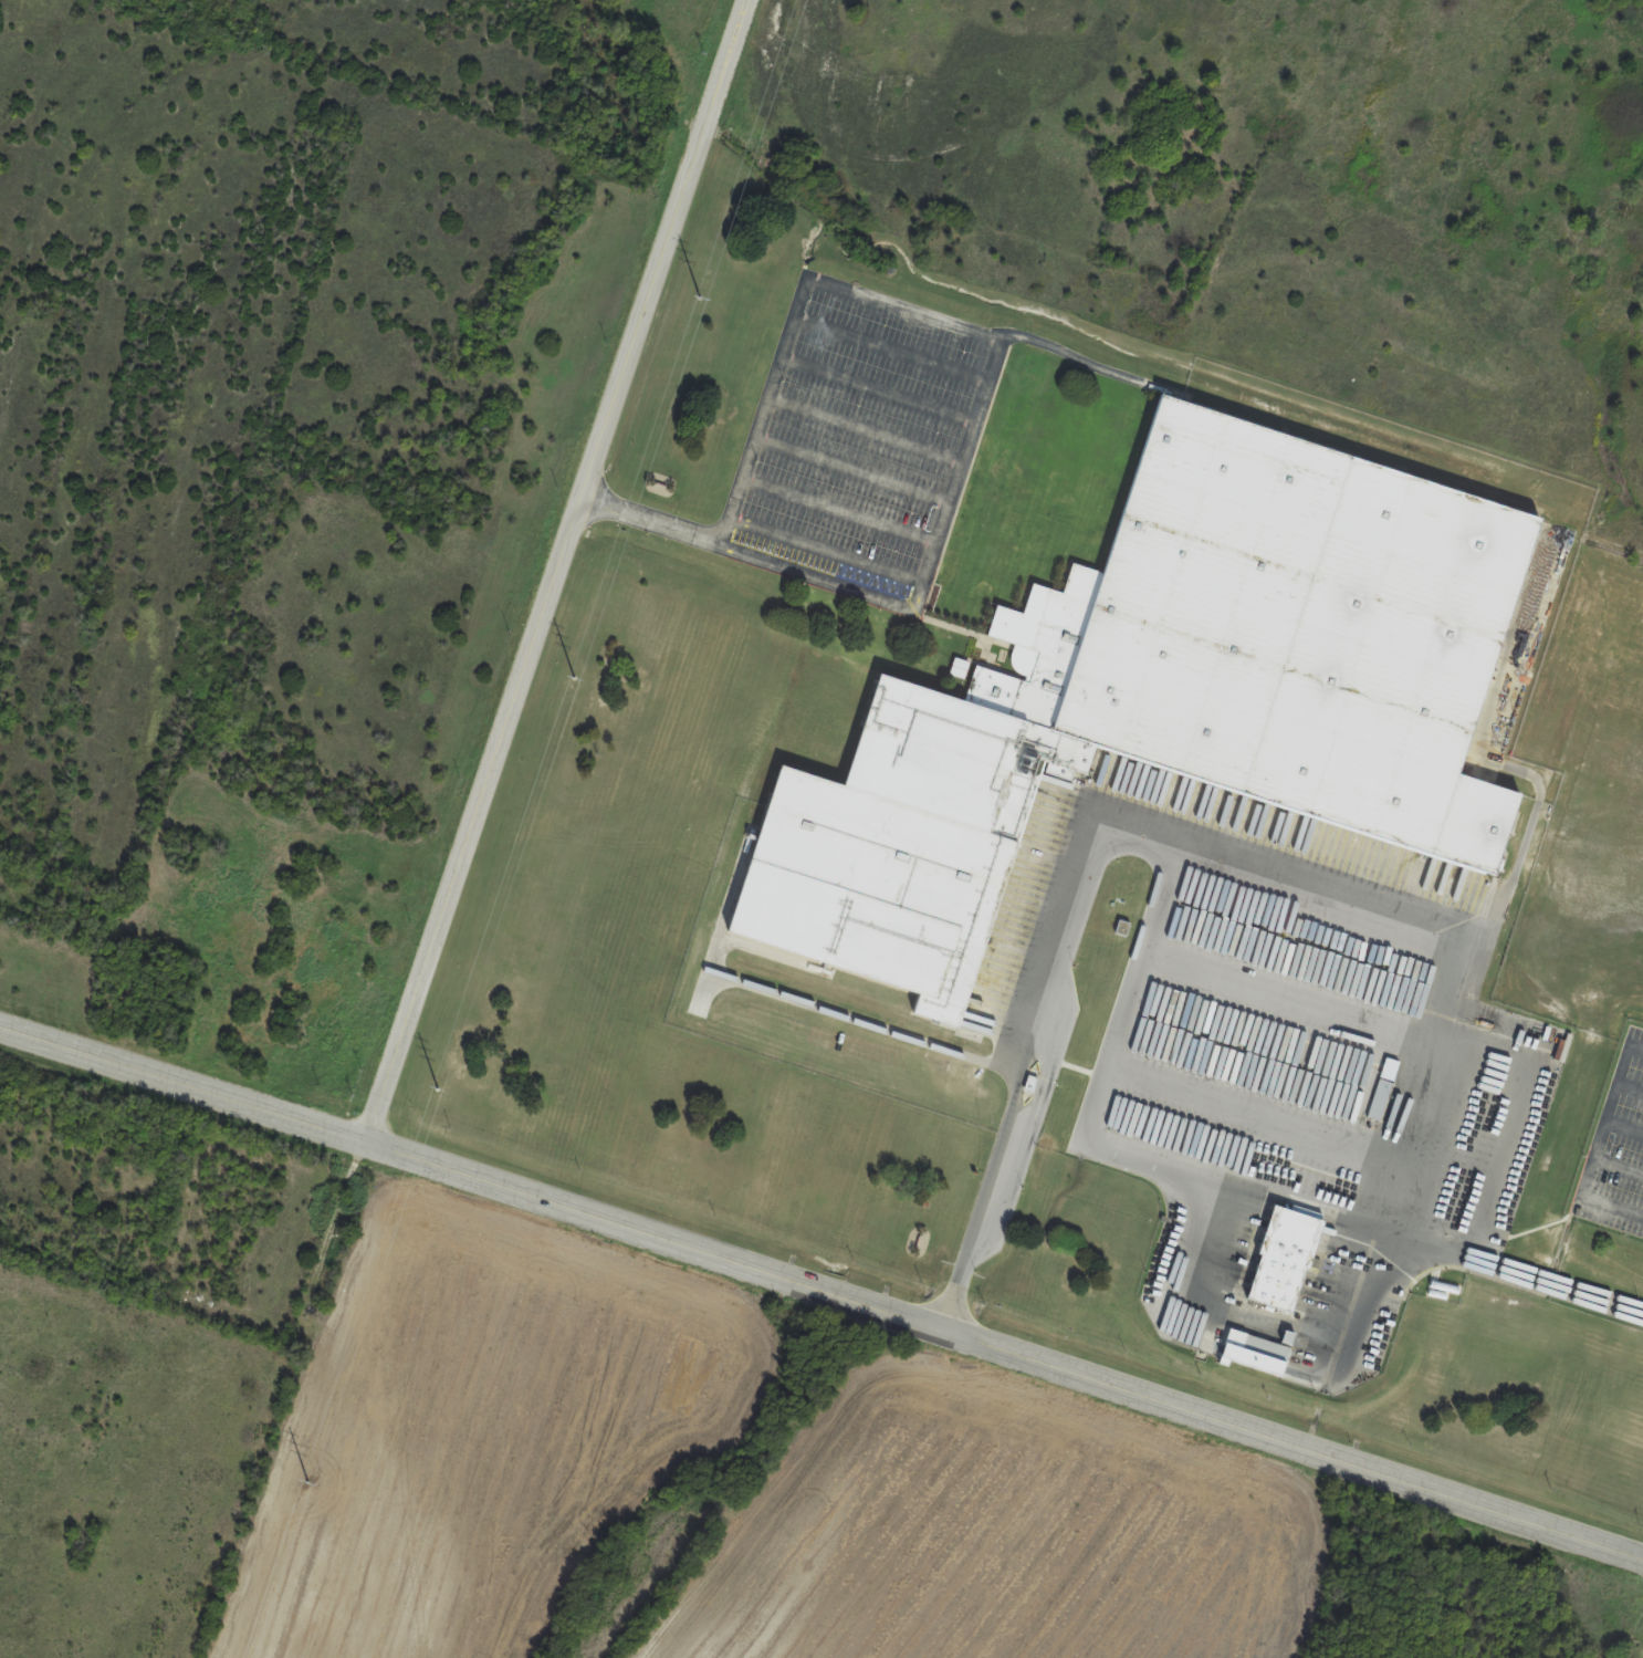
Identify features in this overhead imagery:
power tower: (709, 274)
road: (954, 324)
road: (887, 357)
road: (877, 392)
road: (864, 430)
parking lot: (861, 445)
road: (851, 470)
road: (737, 482)
road: (836, 515)
road: (650, 522)
road: (559, 572)
road: (825, 581)
power tower: (577, 677)
building: (1165, 695)
power tower: (440, 1089)
building: (1279, 1259)
road: (821, 1292)
building: (1252, 1352)
power tower: (314, 1484)
crop: (1001, 1532)

